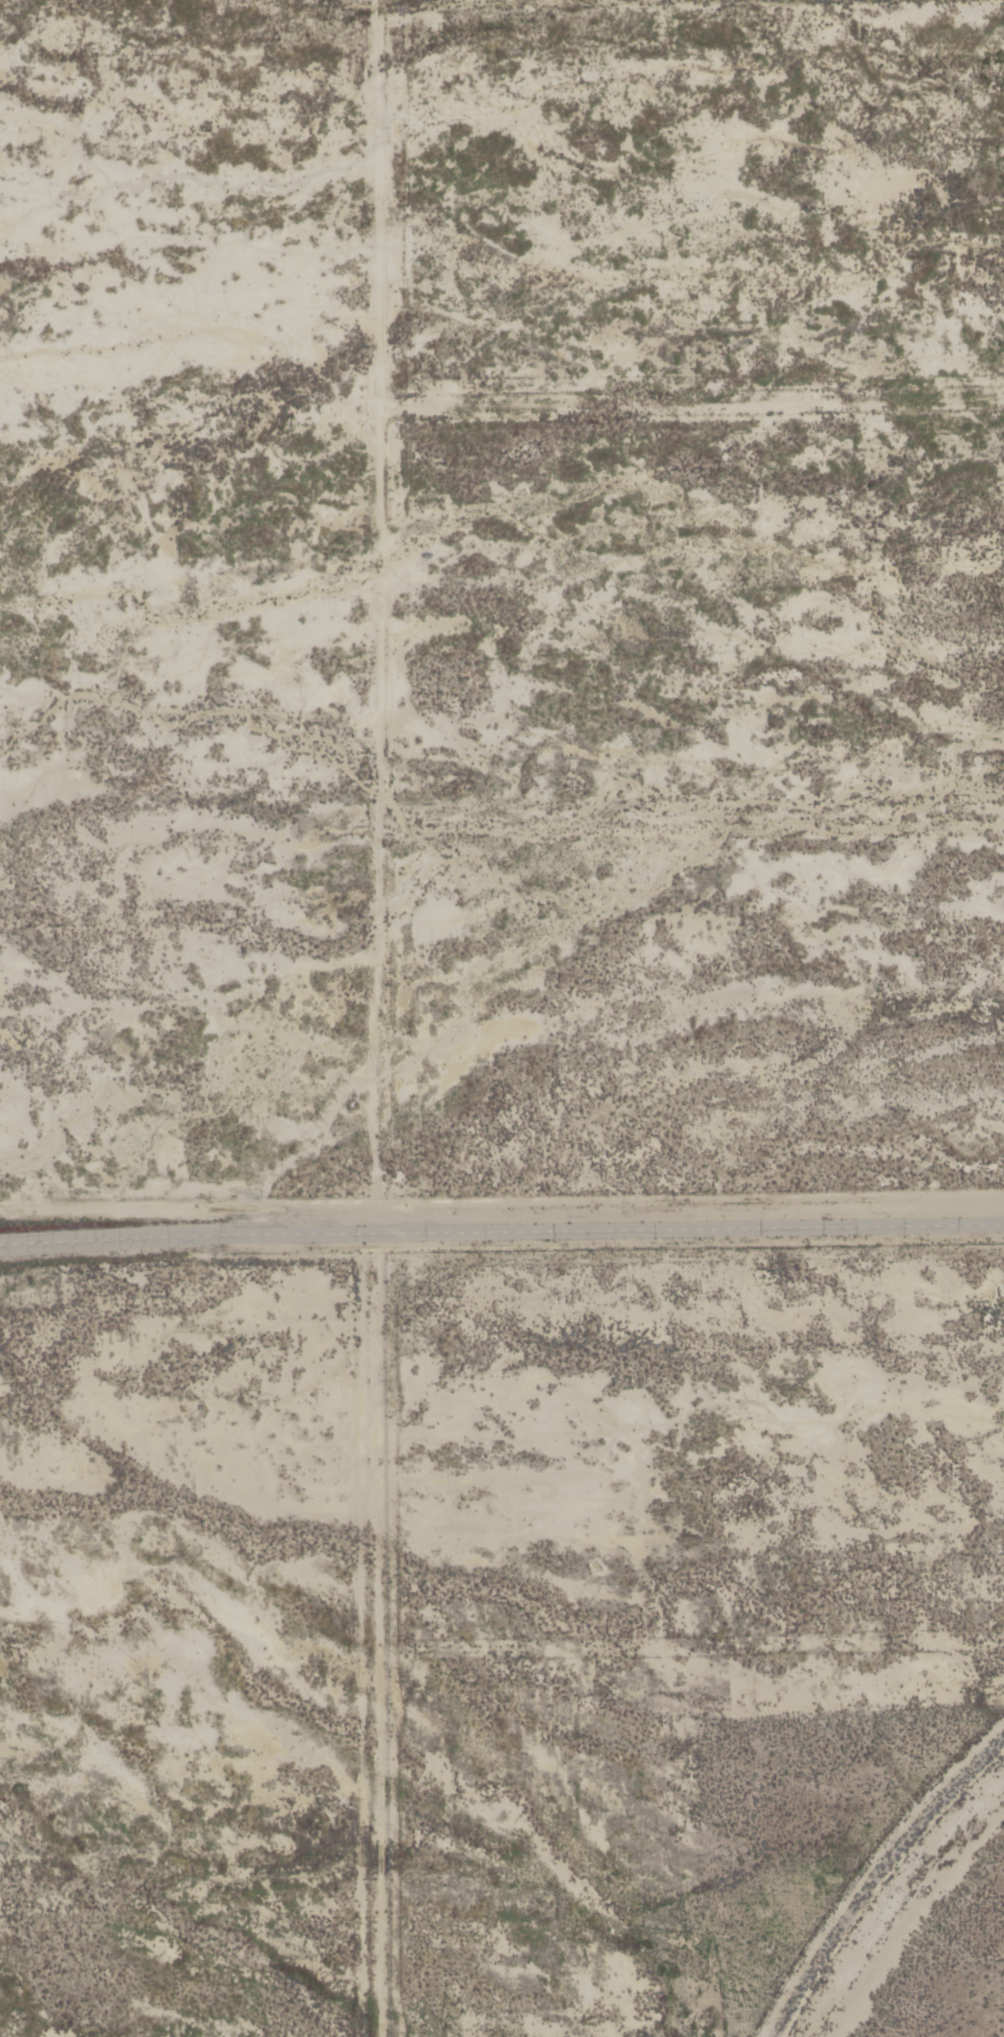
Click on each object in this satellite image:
road: (502, 1236)

